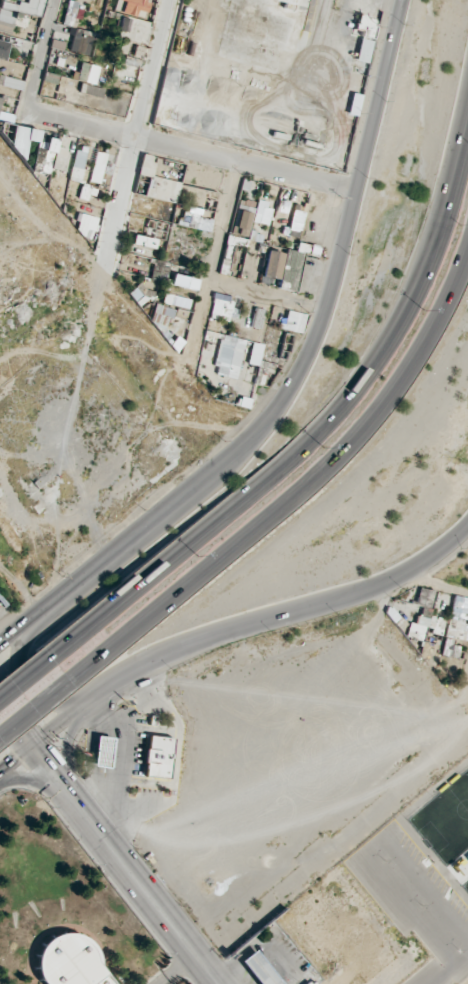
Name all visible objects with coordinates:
gas station: (135, 755)
gas station: (255, 971)

